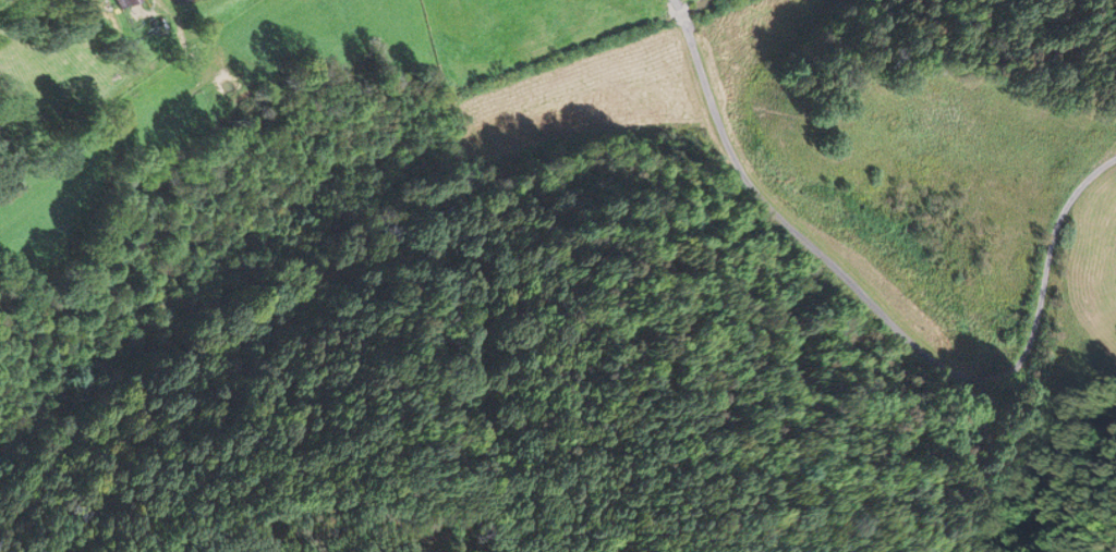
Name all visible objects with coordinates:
road: (68, 170)

